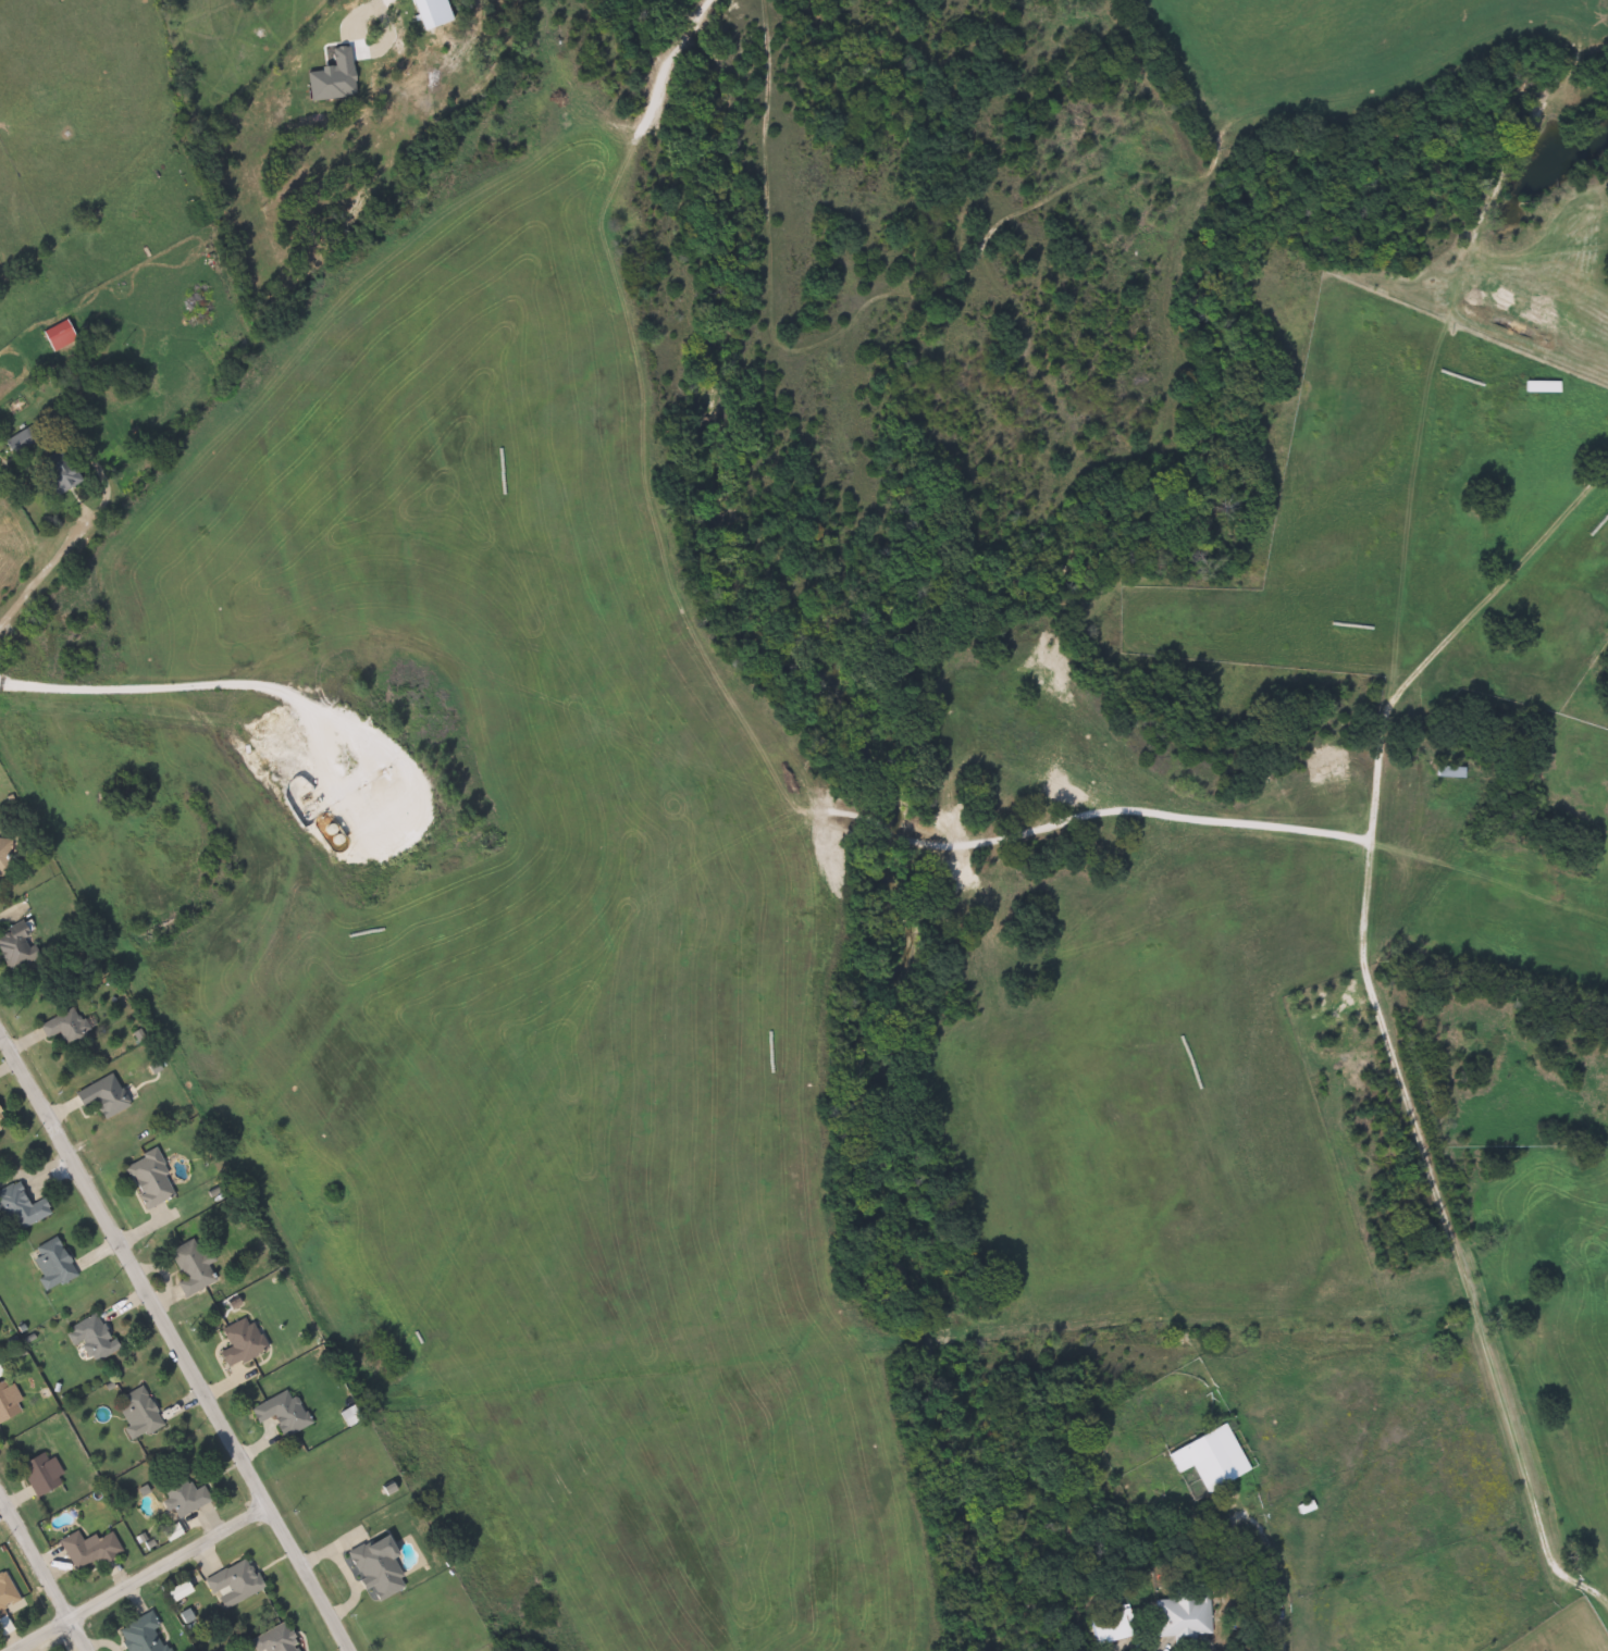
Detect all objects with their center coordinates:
road: (384, 7)
road: (360, 17)
building: (64, 336)
road: (13, 346)
building: (1537, 388)
building: (26, 443)
building: (65, 473)
road: (51, 558)
road: (1517, 568)
road: (178, 679)
building: (1445, 771)
building: (338, 835)
building: (8, 854)
building: (23, 947)
building: (63, 1020)
building: (100, 1088)
building: (5, 1108)
road: (1421, 1150)
building: (149, 1172)
building: (20, 1203)
building: (48, 1256)
building: (196, 1263)
building: (98, 1338)
building: (247, 1342)
road: (172, 1344)
building: (12, 1403)
building: (144, 1413)
building: (288, 1413)
building: (1216, 1458)
building: (48, 1474)
building: (189, 1497)
building: (95, 1549)
building: (384, 1568)
road: (40, 1580)
road: (139, 1580)
building: (239, 1584)
building: (10, 1596)
building: (1190, 1616)
road: (1277, 1621)
building: (1118, 1627)
building: (148, 1635)
building: (281, 1640)

